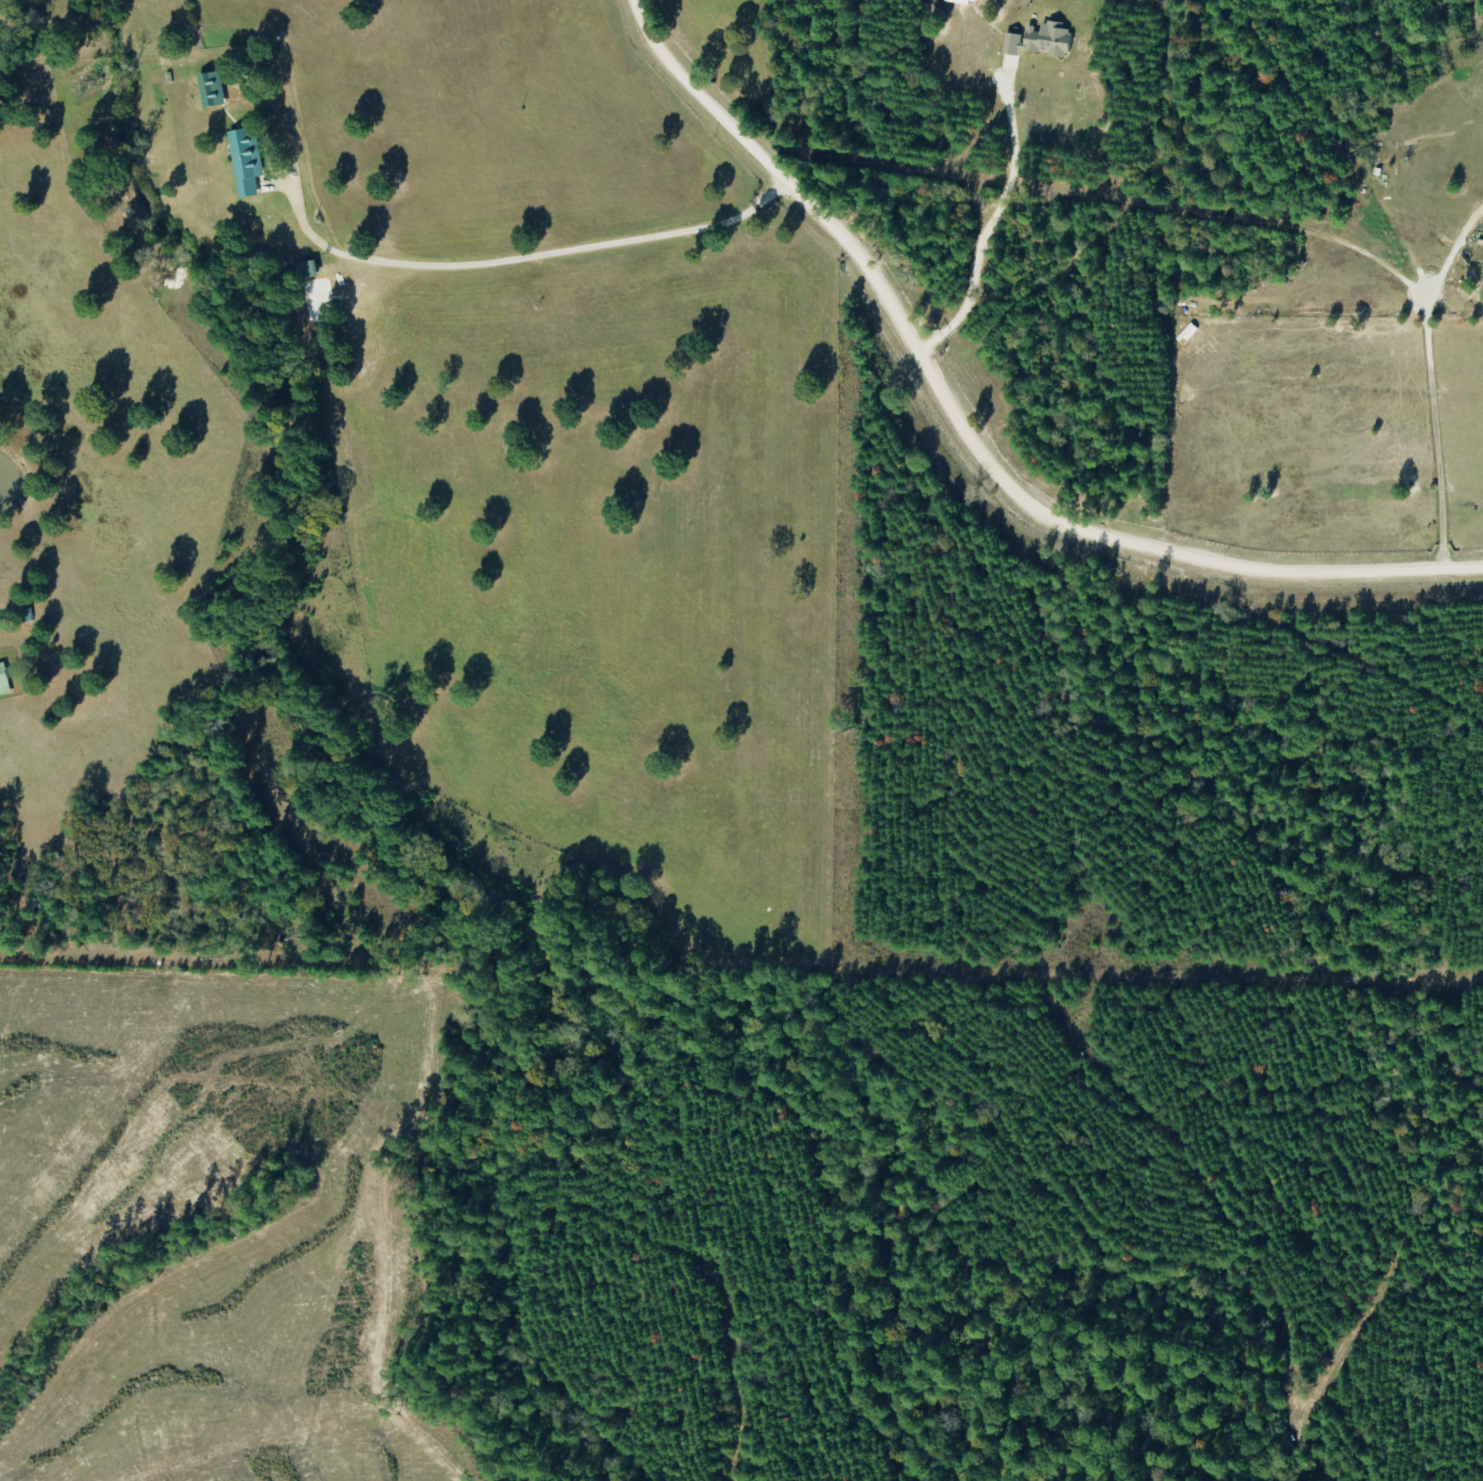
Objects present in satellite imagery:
road: (443, 95)
building: (244, 160)
building: (300, 270)
road: (955, 440)
building: (25, 614)
building: (3, 681)

